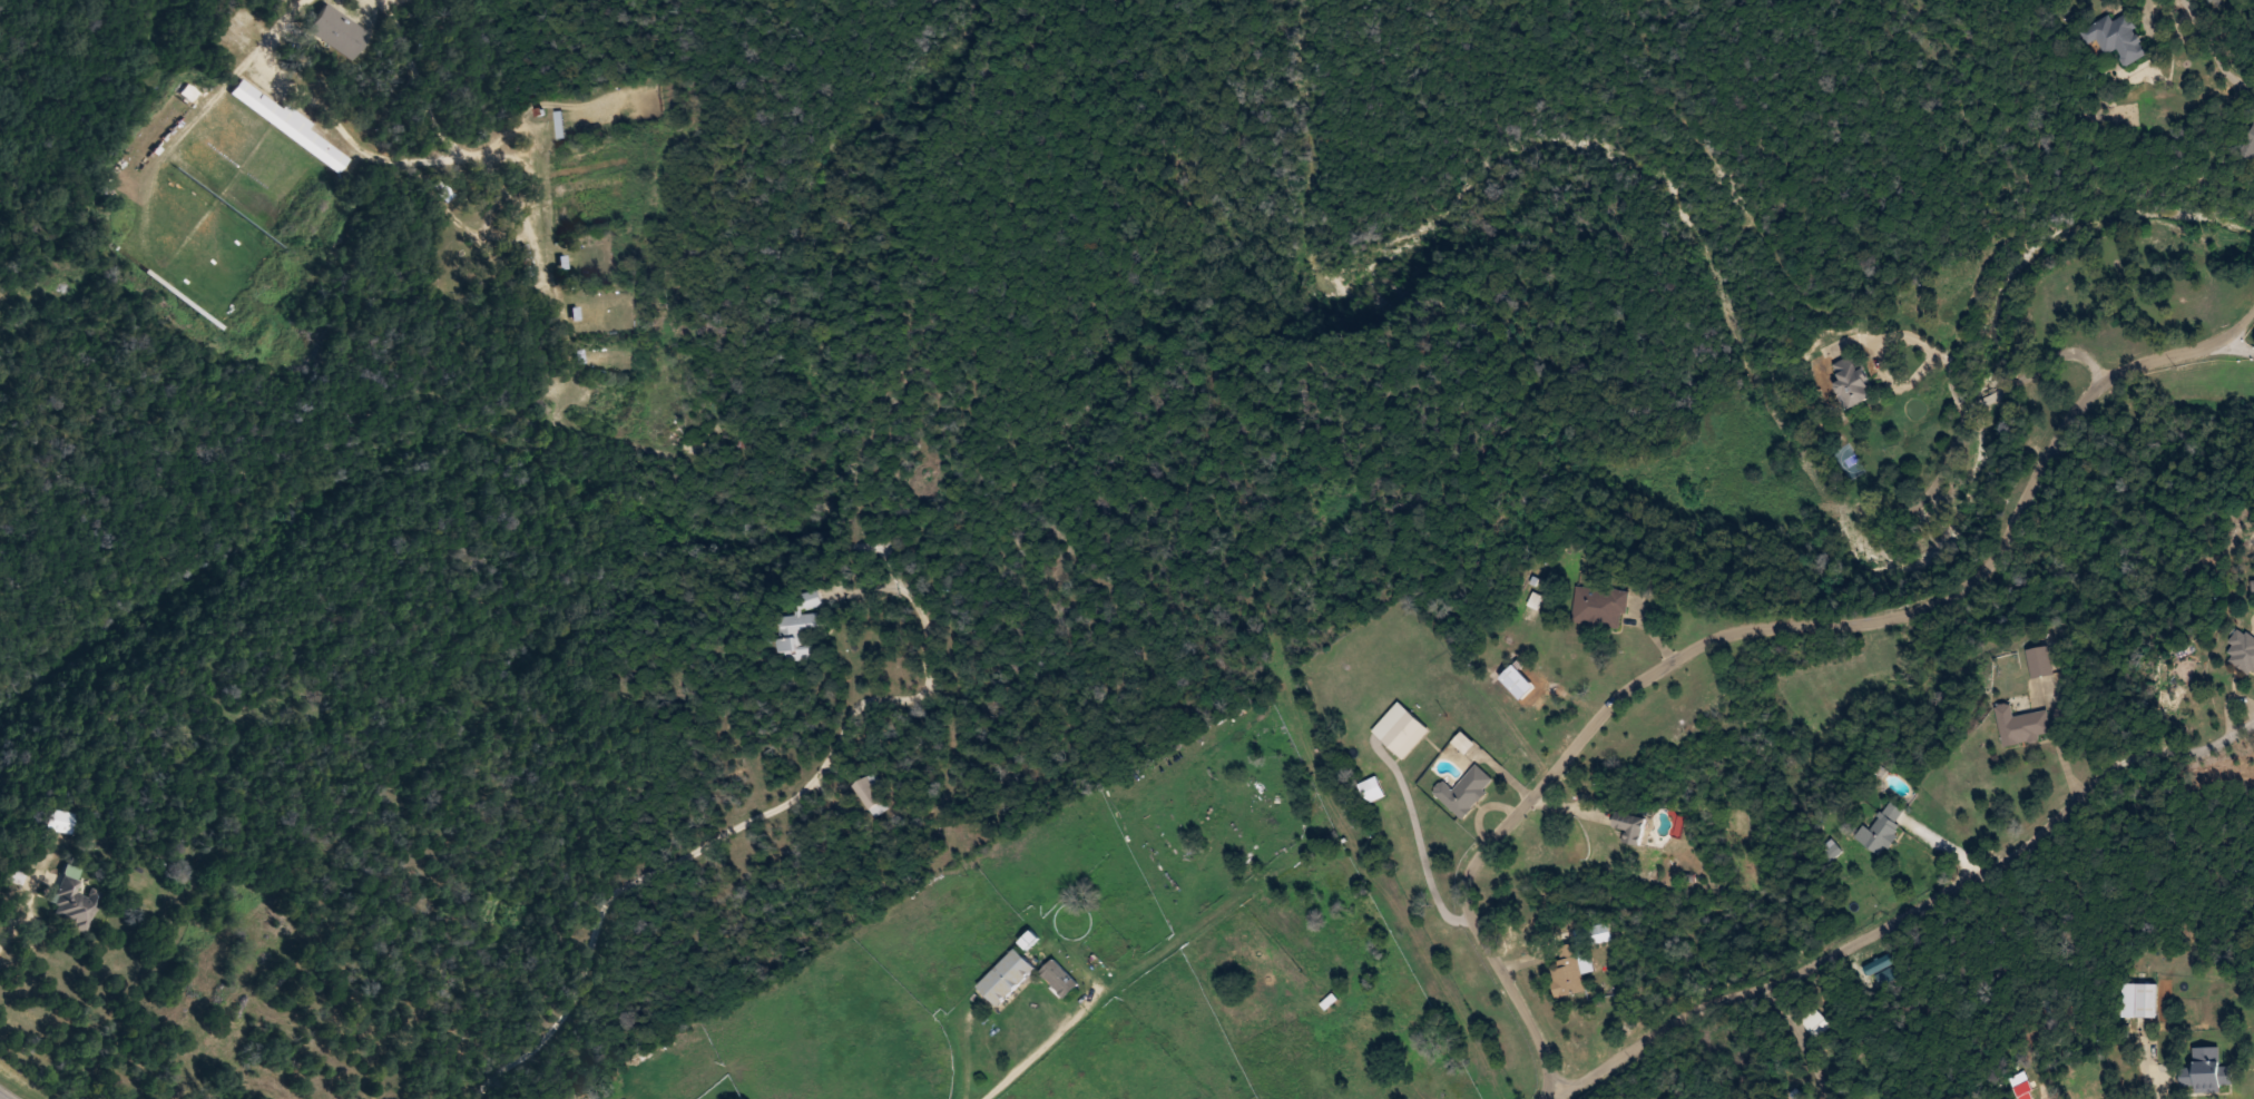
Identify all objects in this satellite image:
building: (335, 18)
building: (2117, 38)
building: (287, 125)
building: (2250, 141)
building: (1851, 382)
road: (1954, 444)
road: (1909, 485)
building: (1599, 606)
building: (798, 626)
road: (1761, 627)
building: (2242, 650)
building: (2040, 660)
building: (2021, 724)
building: (1401, 729)
building: (1371, 789)
building: (1464, 792)
building: (870, 796)
building: (58, 822)
building: (1629, 825)
building: (1881, 828)
building: (1825, 853)
building: (69, 890)
road: (1903, 906)
building: (1567, 970)
building: (1007, 977)
building: (1060, 977)
road: (1108, 998)
building: (2138, 1000)
building: (1813, 1021)
building: (2205, 1077)

